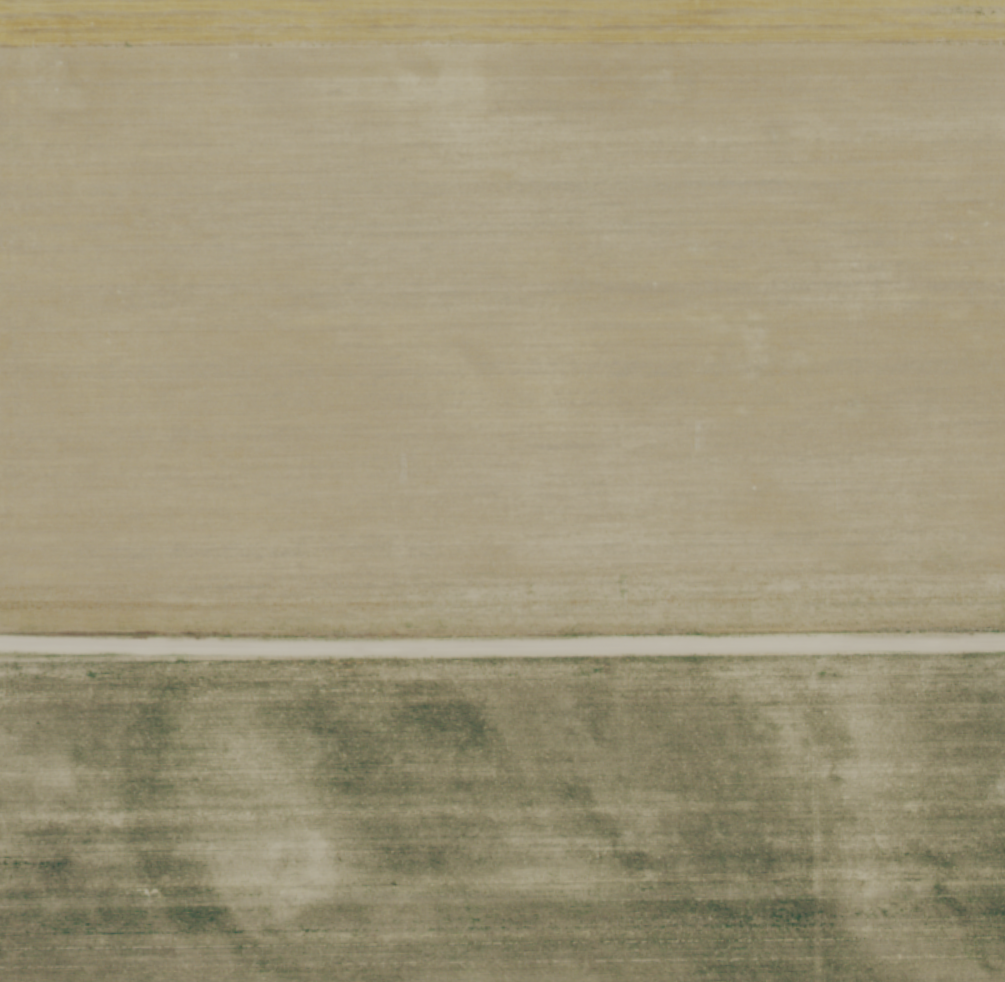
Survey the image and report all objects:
crop: (501, 311)
road: (502, 645)
crop: (505, 823)

